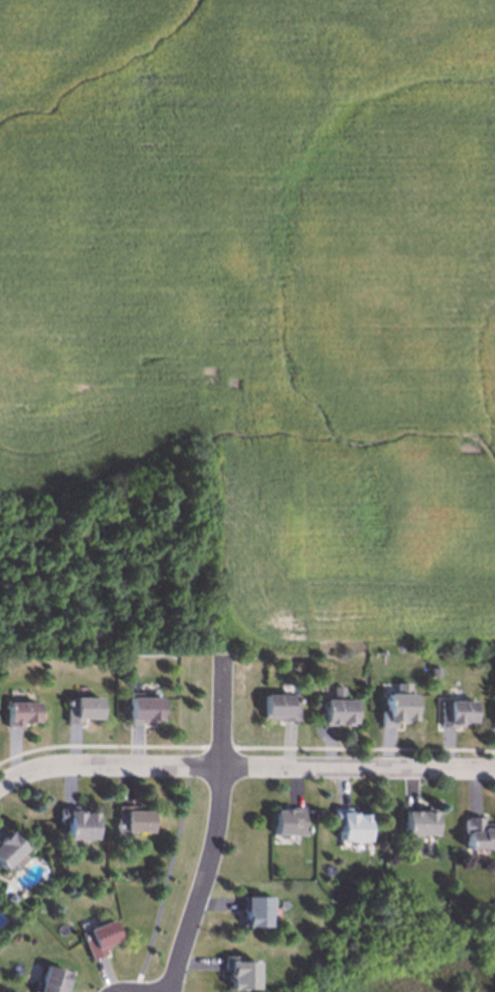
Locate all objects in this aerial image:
building: (399, 706)
building: (282, 707)
building: (145, 708)
building: (84, 709)
building: (339, 709)
building: (22, 713)
building: (459, 713)
road: (245, 767)
building: (134, 819)
building: (289, 821)
building: (419, 822)
building: (79, 823)
road: (220, 825)
building: (351, 825)
building: (479, 834)
building: (11, 851)
building: (257, 911)
building: (100, 938)
building: (241, 973)
building: (54, 979)
road: (139, 989)

